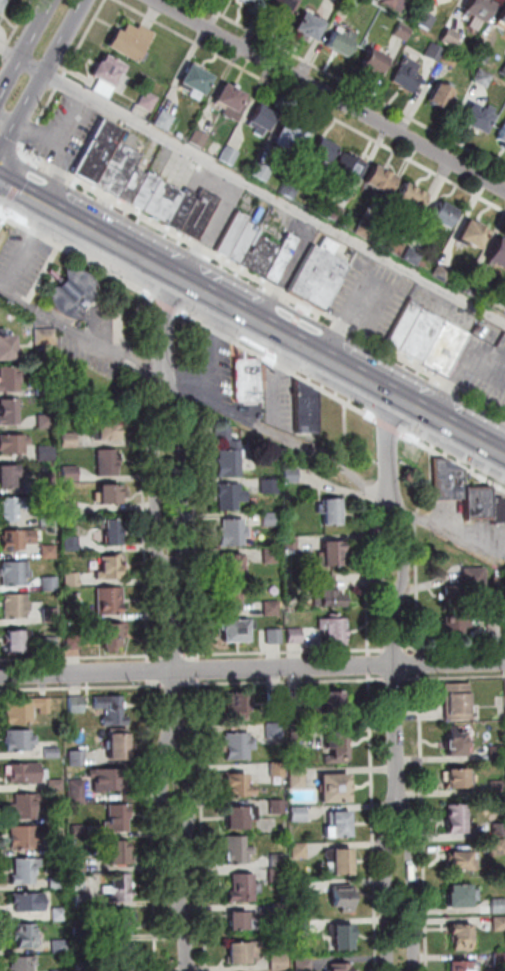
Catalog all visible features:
building: (340, 1)
building: (251, 2)
building: (352, 3)
building: (397, 4)
building: (2, 5)
building: (282, 9)
building: (479, 11)
building: (426, 20)
road: (18, 21)
building: (502, 21)
building: (310, 29)
building: (404, 32)
road: (82, 38)
building: (451, 38)
building: (131, 43)
road: (24, 44)
building: (341, 46)
road: (3, 47)
building: (436, 52)
building: (483, 53)
building: (451, 59)
building: (376, 64)
building: (110, 72)
building: (503, 73)
road: (41, 74)
building: (408, 76)
building: (484, 79)
road: (58, 82)
building: (197, 82)
road: (350, 84)
road: (328, 96)
building: (440, 98)
building: (148, 101)
building: (233, 104)
road: (312, 104)
road: (38, 119)
building: (165, 121)
building: (478, 121)
building: (263, 122)
parking lot: (66, 130)
building: (292, 137)
building: (502, 138)
building: (200, 140)
road: (11, 143)
building: (100, 152)
building: (230, 156)
building: (323, 158)
building: (120, 170)
building: (351, 171)
building: (264, 172)
building: (381, 183)
road: (252, 184)
road: (17, 186)
building: (134, 187)
building: (291, 189)
building: (147, 192)
road: (30, 198)
building: (412, 198)
building: (165, 202)
building: (185, 210)
building: (336, 213)
road: (3, 214)
building: (201, 215)
parking lot: (224, 215)
building: (443, 216)
road: (4, 224)
building: (367, 230)
building: (234, 234)
building: (472, 237)
building: (244, 243)
building: (396, 248)
building: (261, 255)
building: (413, 257)
building: (498, 257)
road: (80, 258)
building: (284, 258)
parking lot: (299, 259)
parking lot: (24, 262)
building: (442, 273)
building: (321, 276)
road: (263, 281)
building: (474, 285)
building: (75, 296)
parking lot: (372, 297)
road: (168, 305)
road: (121, 312)
road: (350, 316)
building: (406, 324)
road: (165, 326)
road: (84, 335)
road: (283, 335)
building: (423, 336)
building: (46, 337)
parking lot: (95, 344)
building: (448, 349)
building: (7, 350)
road: (216, 353)
road: (132, 361)
road: (277, 364)
parking lot: (485, 364)
road: (463, 368)
parking lot: (214, 370)
building: (50, 371)
road: (191, 377)
building: (9, 380)
building: (250, 382)
road: (168, 385)
building: (46, 389)
road: (189, 392)
parking lot: (281, 399)
building: (307, 411)
building: (9, 414)
building: (47, 422)
road: (388, 426)
building: (109, 433)
building: (224, 434)
road: (347, 435)
road: (284, 437)
building: (69, 440)
building: (14, 445)
road: (391, 450)
building: (47, 453)
building: (231, 460)
road: (454, 461)
building: (108, 463)
building: (71, 474)
building: (292, 475)
building: (8, 477)
road: (184, 479)
road: (158, 480)
building: (47, 483)
building: (450, 483)
building: (270, 487)
building: (232, 496)
building: (111, 497)
building: (479, 507)
building: (12, 508)
building: (70, 510)
building: (498, 511)
building: (334, 512)
building: (48, 519)
road: (146, 519)
building: (270, 520)
parking lot: (472, 527)
building: (233, 533)
building: (115, 534)
road: (448, 535)
building: (19, 540)
building: (72, 543)
building: (292, 543)
road: (419, 550)
building: (49, 553)
road: (382, 554)
road: (405, 554)
building: (271, 556)
building: (333, 556)
building: (234, 566)
building: (111, 568)
building: (16, 573)
building: (73, 580)
building: (50, 585)
building: (467, 589)
building: (329, 595)
building: (232, 600)
building: (110, 601)
building: (16, 607)
building: (272, 609)
building: (74, 616)
building: (52, 617)
building: (457, 627)
building: (238, 632)
building: (335, 633)
building: (113, 637)
building: (276, 637)
building: (296, 637)
building: (16, 642)
building: (52, 644)
building: (75, 644)
road: (455, 649)
road: (396, 650)
road: (286, 651)
road: (173, 653)
road: (175, 655)
road: (82, 657)
road: (422, 663)
road: (252, 668)
road: (150, 670)
road: (455, 678)
road: (396, 680)
road: (286, 681)
road: (175, 683)
road: (197, 683)
road: (81, 687)
road: (396, 693)
building: (277, 699)
building: (297, 701)
building: (335, 702)
building: (459, 703)
building: (240, 704)
building: (78, 705)
building: (25, 709)
building: (112, 711)
road: (374, 730)
building: (276, 731)
building: (300, 735)
building: (20, 741)
building: (456, 745)
building: (239, 747)
building: (119, 749)
building: (338, 750)
building: (52, 753)
building: (498, 754)
building: (78, 758)
building: (278, 771)
building: (28, 774)
building: (110, 779)
building: (299, 780)
building: (459, 781)
building: (57, 785)
building: (240, 787)
building: (499, 787)
road: (166, 788)
road: (192, 788)
building: (78, 790)
building: (336, 792)
building: (25, 806)
building: (279, 807)
building: (300, 814)
building: (57, 816)
building: (118, 817)
building: (241, 818)
building: (457, 820)
road: (425, 822)
road: (155, 825)
building: (340, 826)
building: (80, 830)
building: (500, 830)
building: (25, 837)
building: (499, 847)
building: (58, 850)
building: (300, 850)
building: (117, 851)
building: (240, 851)
building: (279, 860)
building: (79, 863)
building: (345, 863)
building: (464, 864)
building: (26, 871)
building: (279, 876)
road: (399, 877)
building: (58, 883)
building: (121, 887)
building: (243, 889)
building: (301, 889)
building: (462, 898)
building: (344, 899)
building: (83, 900)
building: (29, 903)
road: (182, 905)
building: (499, 907)
building: (281, 908)
building: (60, 913)
building: (245, 921)
building: (121, 922)
building: (303, 925)
building: (500, 925)
building: (81, 933)
building: (27, 935)
building: (343, 938)
building: (462, 941)
building: (60, 945)
building: (244, 953)
building: (124, 956)
building: (501, 960)
building: (281, 962)
building: (24, 964)
building: (305, 964)
building: (83, 965)
building: (466, 966)
building: (341, 967)
building: (60, 970)

